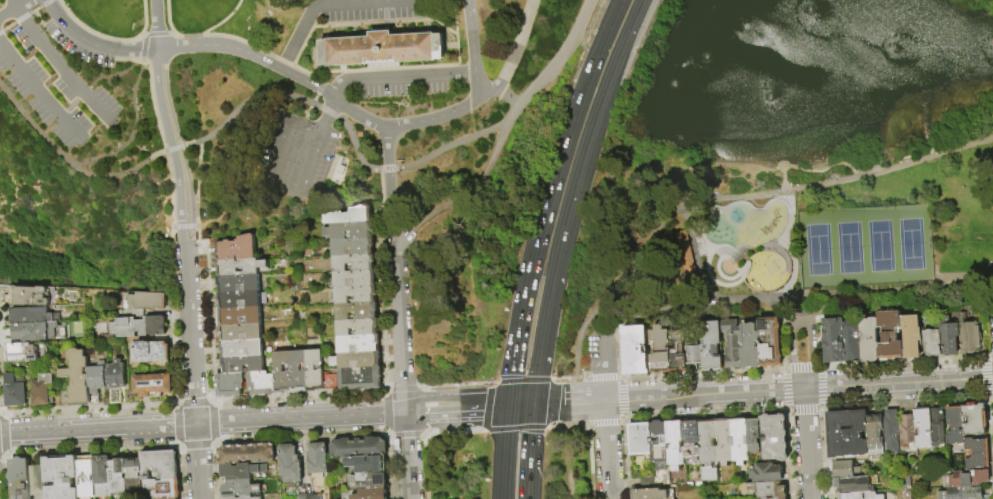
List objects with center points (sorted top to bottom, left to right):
road: (531, 0)
road: (386, 1)
road: (371, 2)
road: (15, 8)
parking lot: (368, 10)
road: (25, 16)
road: (156, 24)
road: (360, 24)
road: (221, 25)
road: (455, 29)
road: (157, 33)
road: (298, 36)
road: (471, 36)
road: (112, 38)
road: (235, 38)
road: (144, 43)
road: (93, 44)
road: (452, 46)
building: (383, 49)
road: (597, 52)
road: (249, 54)
road: (513, 55)
road: (58, 65)
road: (363, 70)
road: (611, 71)
parking lot: (51, 74)
road: (460, 74)
road: (399, 77)
road: (100, 78)
parking lot: (400, 82)
road: (340, 84)
road: (476, 86)
road: (40, 93)
park: (418, 103)
road: (511, 112)
road: (358, 115)
road: (327, 116)
road: (433, 119)
road: (134, 126)
road: (195, 142)
road: (173, 145)
road: (181, 147)
road: (387, 148)
parking lot: (294, 157)
road: (822, 169)
road: (481, 175)
road: (266, 182)
road: (388, 185)
road: (735, 197)
building: (350, 215)
building: (349, 230)
park: (755, 235)
road: (783, 245)
building: (352, 246)
road: (388, 246)
park: (864, 246)
building: (236, 248)
building: (684, 252)
road: (531, 254)
road: (693, 260)
building: (353, 262)
building: (239, 266)
road: (553, 273)
building: (354, 279)
road: (381, 279)
park: (463, 281)
building: (237, 283)
road: (992, 289)
road: (858, 290)
building: (356, 294)
building: (31, 297)
building: (238, 299)
building: (147, 302)
road: (775, 305)
road: (399, 307)
road: (987, 308)
building: (356, 310)
road: (657, 311)
road: (812, 314)
building: (36, 316)
building: (239, 316)
road: (781, 316)
road: (800, 324)
building: (357, 326)
building: (136, 327)
building: (35, 332)
building: (240, 332)
road: (982, 333)
building: (949, 334)
building: (890, 336)
building: (911, 336)
building: (969, 336)
road: (818, 339)
building: (868, 340)
building: (833, 341)
building: (358, 342)
building: (770, 342)
building: (932, 342)
building: (851, 343)
building: (732, 344)
building: (711, 346)
building: (750, 347)
building: (241, 348)
road: (618, 349)
building: (635, 351)
building: (660, 351)
building: (677, 351)
building: (150, 352)
road: (601, 352)
building: (20, 353)
building: (694, 355)
road: (989, 355)
building: (356, 359)
road: (902, 361)
building: (241, 364)
road: (819, 365)
road: (801, 366)
road: (785, 367)
road: (192, 370)
building: (313, 370)
building: (297, 371)
road: (782, 371)
building: (281, 372)
road: (727, 373)
road: (619, 376)
road: (600, 377)
building: (359, 378)
road: (580, 378)
road: (522, 379)
road: (553, 379)
road: (565, 379)
building: (76, 380)
building: (116, 380)
building: (97, 381)
building: (329, 382)
building: (261, 383)
road: (455, 383)
building: (229, 384)
road: (489, 384)
road: (898, 384)
building: (152, 386)
road: (401, 387)
road: (421, 387)
road: (821, 387)
road: (603, 389)
building: (42, 390)
road: (782, 390)
road: (381, 391)
building: (15, 392)
road: (668, 397)
road: (620, 398)
building: (51, 400)
road: (555, 402)
traffic signals: (534, 405)
road: (521, 406)
traffic signals: (508, 407)
road: (485, 408)
road: (822, 408)
road: (422, 409)
road: (785, 410)
road: (803, 410)
road: (381, 413)
road: (622, 420)
building: (975, 420)
road: (253, 421)
road: (603, 422)
road: (570, 424)
building: (955, 425)
road: (551, 426)
building: (924, 427)
building: (938, 427)
road: (514, 429)
building: (891, 431)
road: (424, 432)
road: (450, 432)
building: (907, 433)
road: (386, 434)
building: (847, 434)
building: (876, 435)
road: (405, 436)
building: (754, 436)
building: (776, 438)
building: (641, 440)
building: (693, 441)
building: (724, 442)
building: (740, 442)
road: (807, 444)
building: (660, 445)
building: (676, 445)
building: (358, 447)
road: (606, 450)
road: (530, 451)
building: (709, 451)
road: (503, 452)
park: (509, 452)
building: (246, 454)
building: (976, 454)
road: (407, 455)
road: (589, 460)
road: (564, 461)
building: (365, 462)
building: (317, 463)
building: (159, 464)
building: (289, 466)
road: (423, 467)
building: (845, 469)
building: (134, 473)
building: (767, 474)
building: (102, 475)
building: (118, 476)
building: (61, 477)
building: (86, 477)
building: (19, 478)
building: (240, 479)
building: (967, 479)
building: (369, 480)
building: (37, 481)
building: (853, 485)
building: (164, 488)
building: (765, 490)
building: (963, 493)
building: (371, 494)
building: (650, 494)
building: (308, 496)
building: (852, 496)
building: (250, 497)
building: (170, 498)
building: (229, 498)
building: (780, 498)

